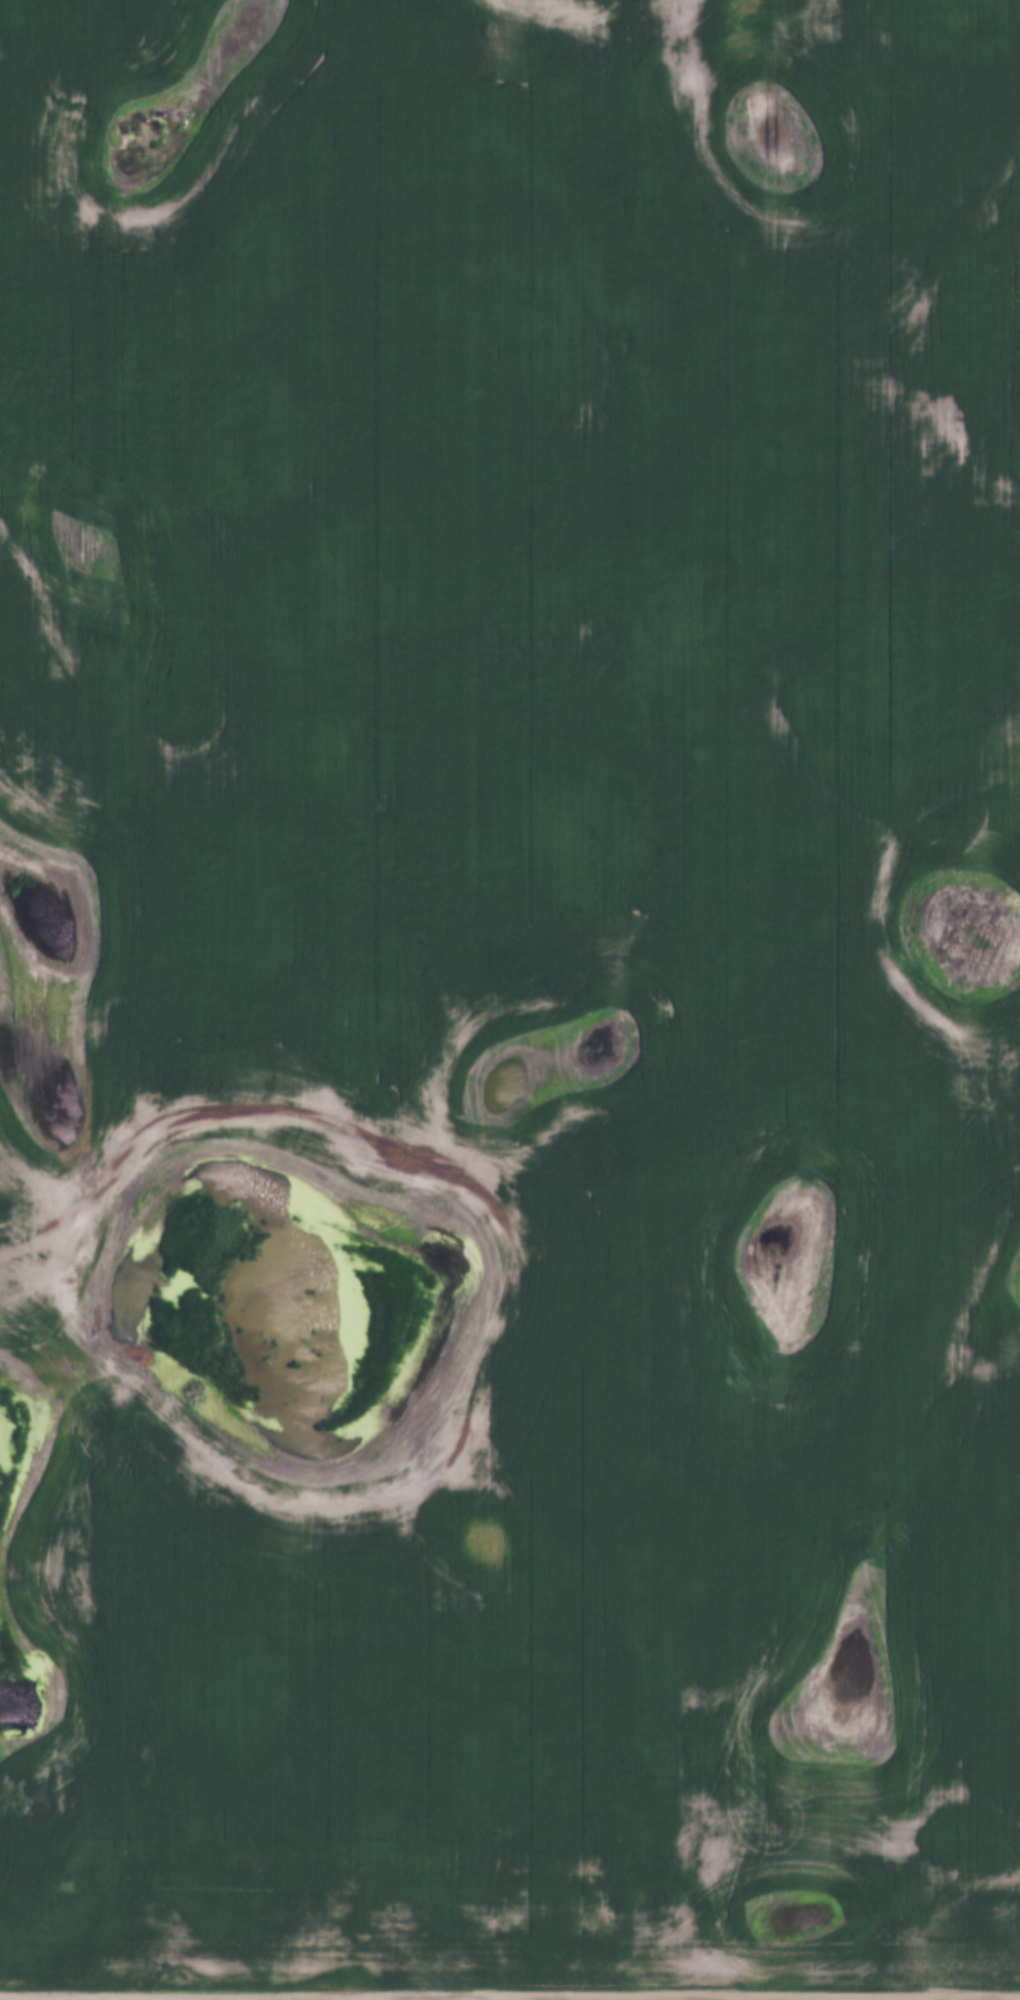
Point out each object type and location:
road: (510, 1999)

